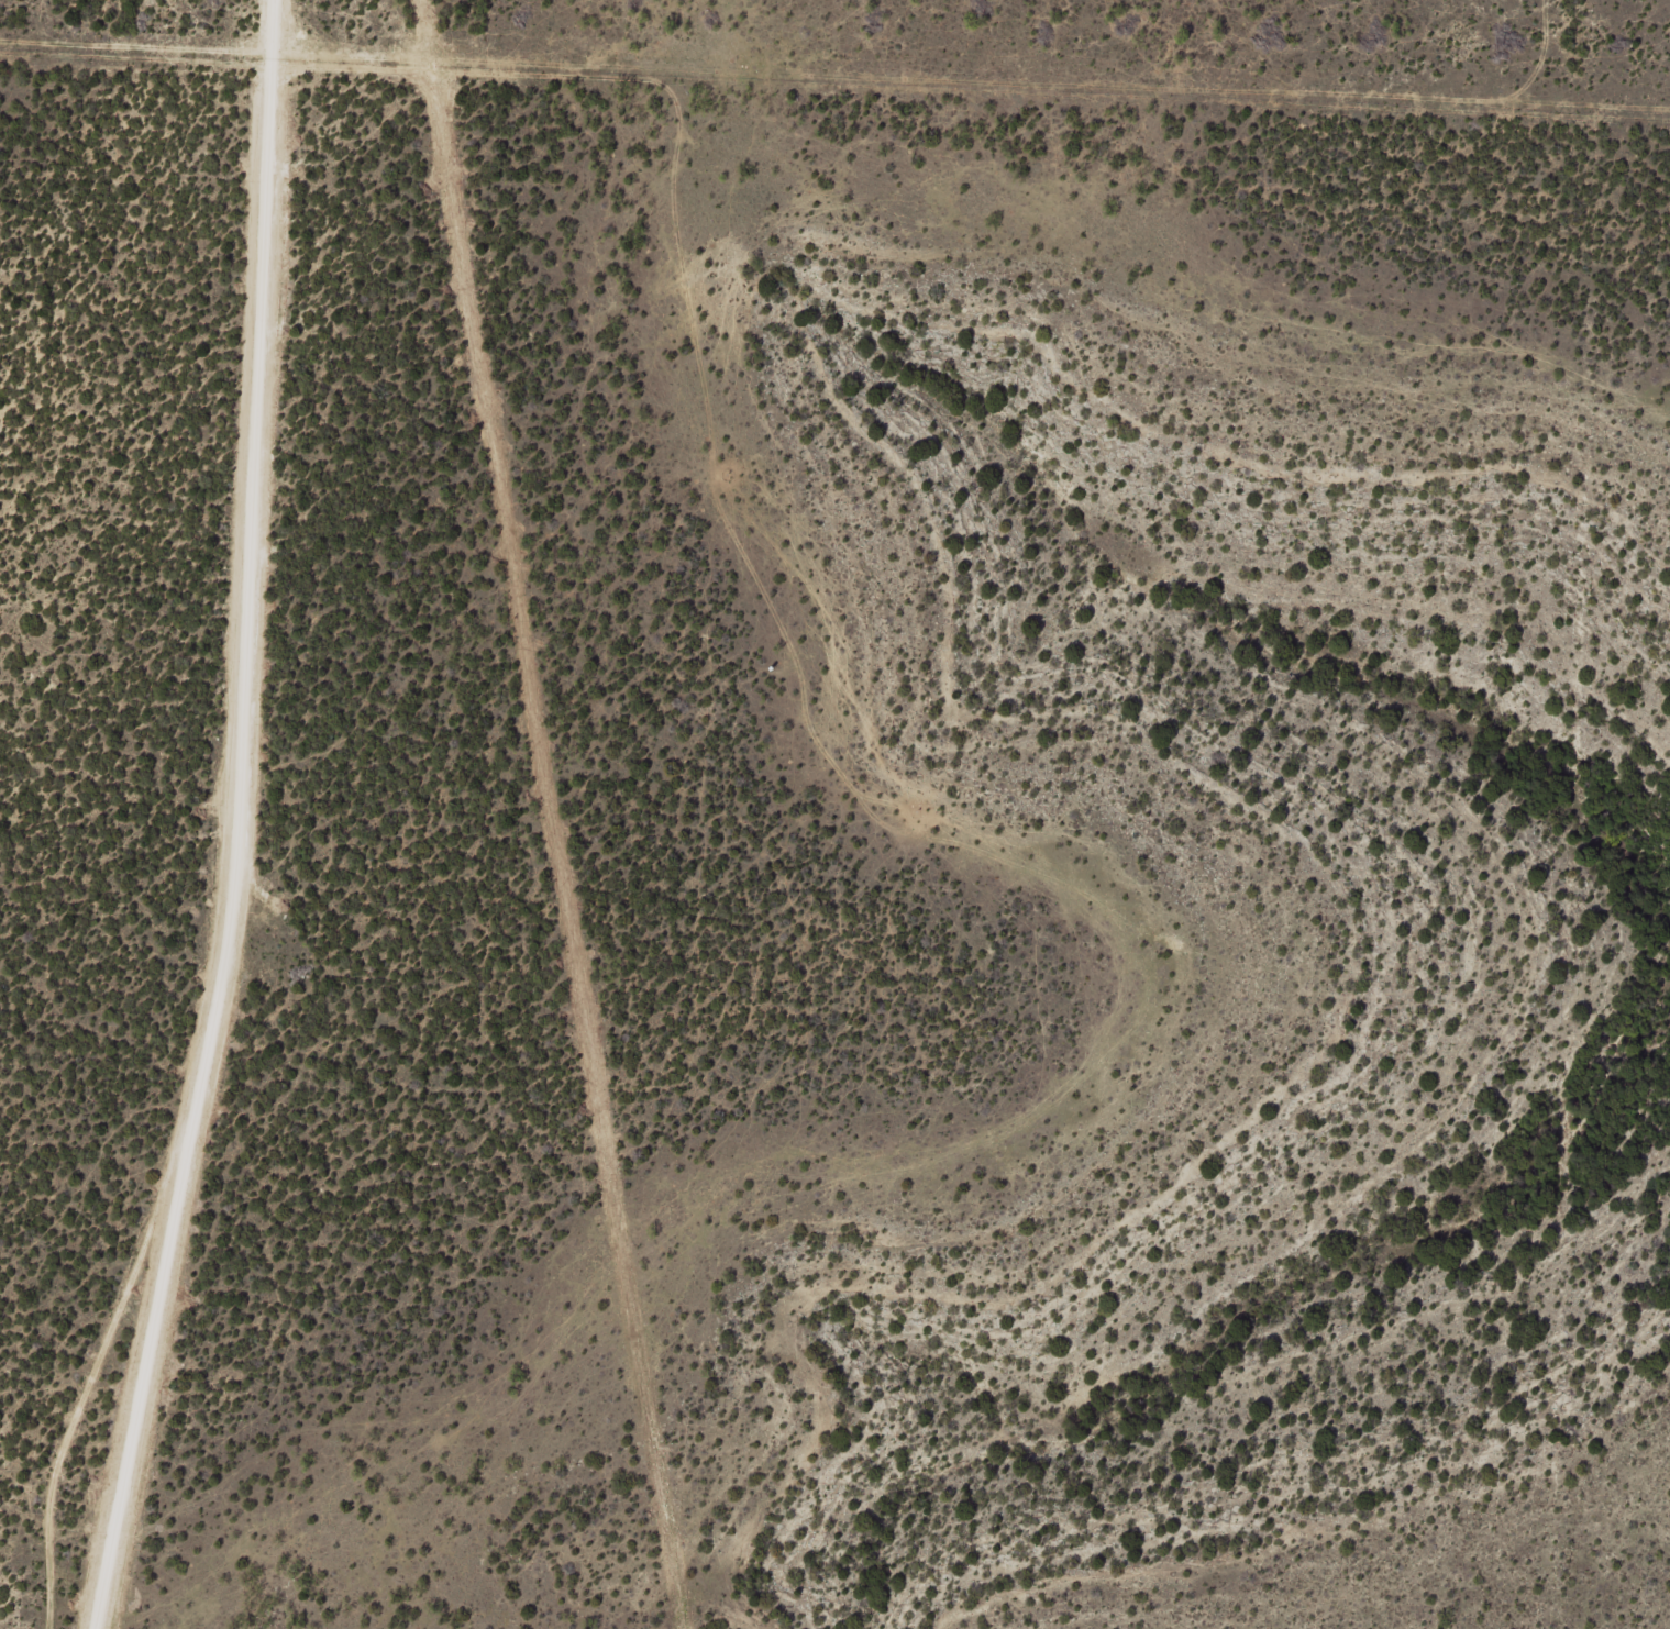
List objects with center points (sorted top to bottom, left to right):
road: (232, 824)

